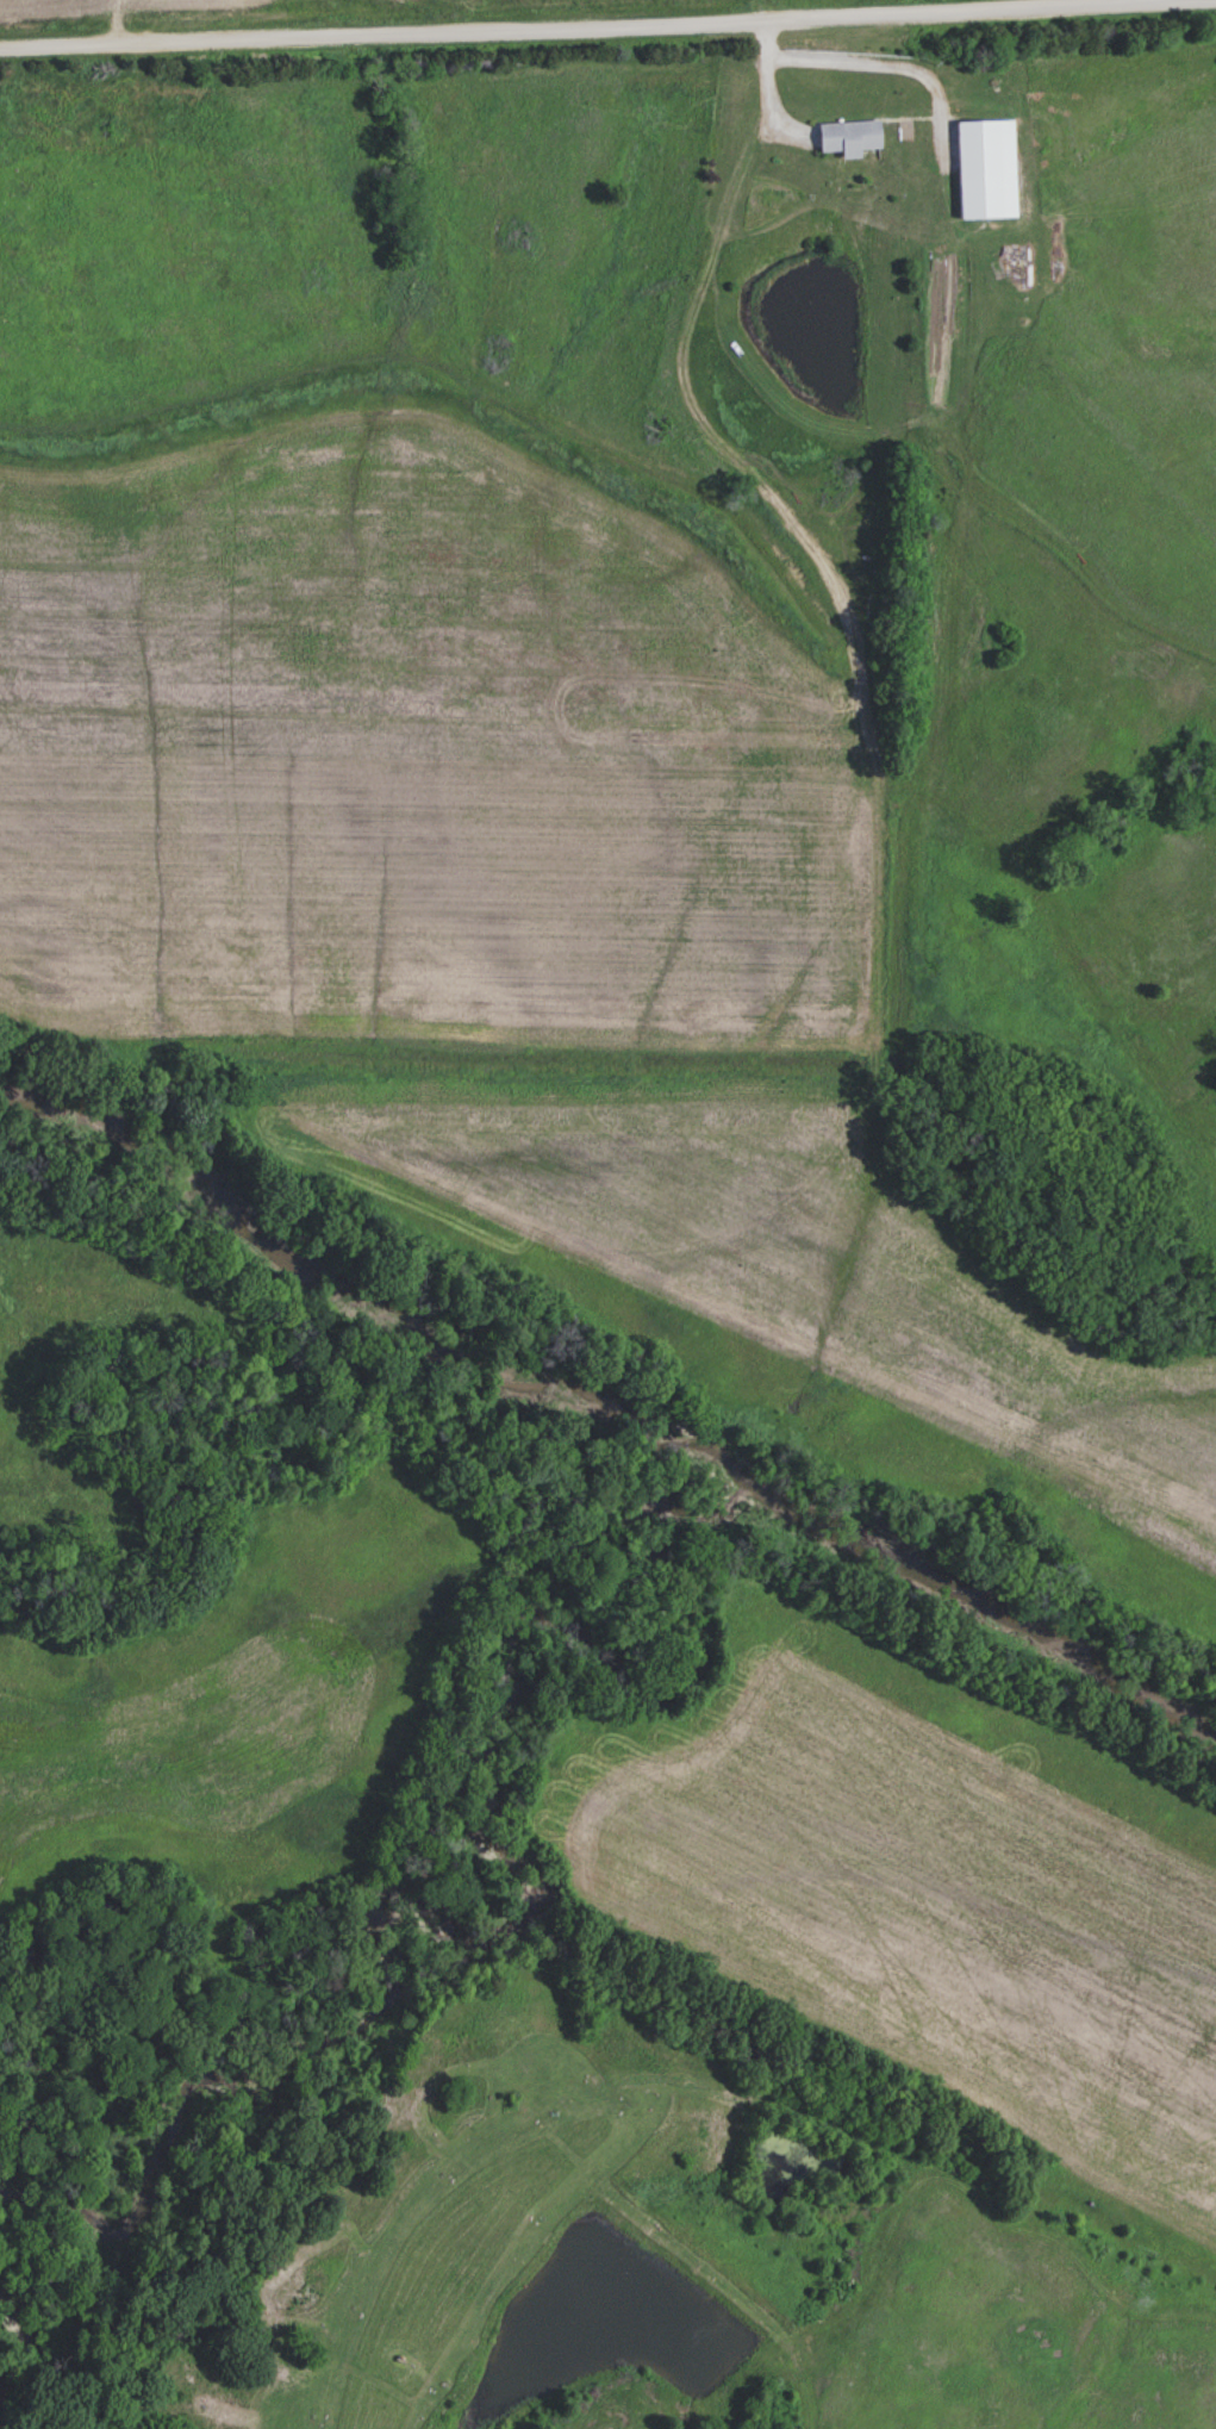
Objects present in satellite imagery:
road: (567, 26)
building: (853, 133)
building: (990, 167)

